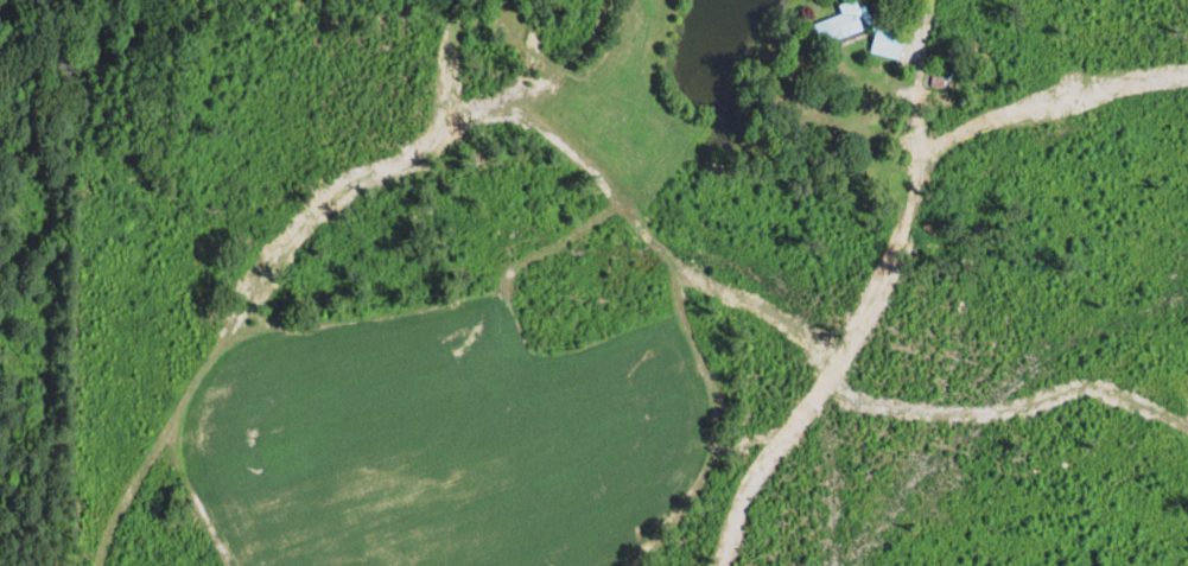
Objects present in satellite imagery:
road: (928, 12)
building: (859, 27)

